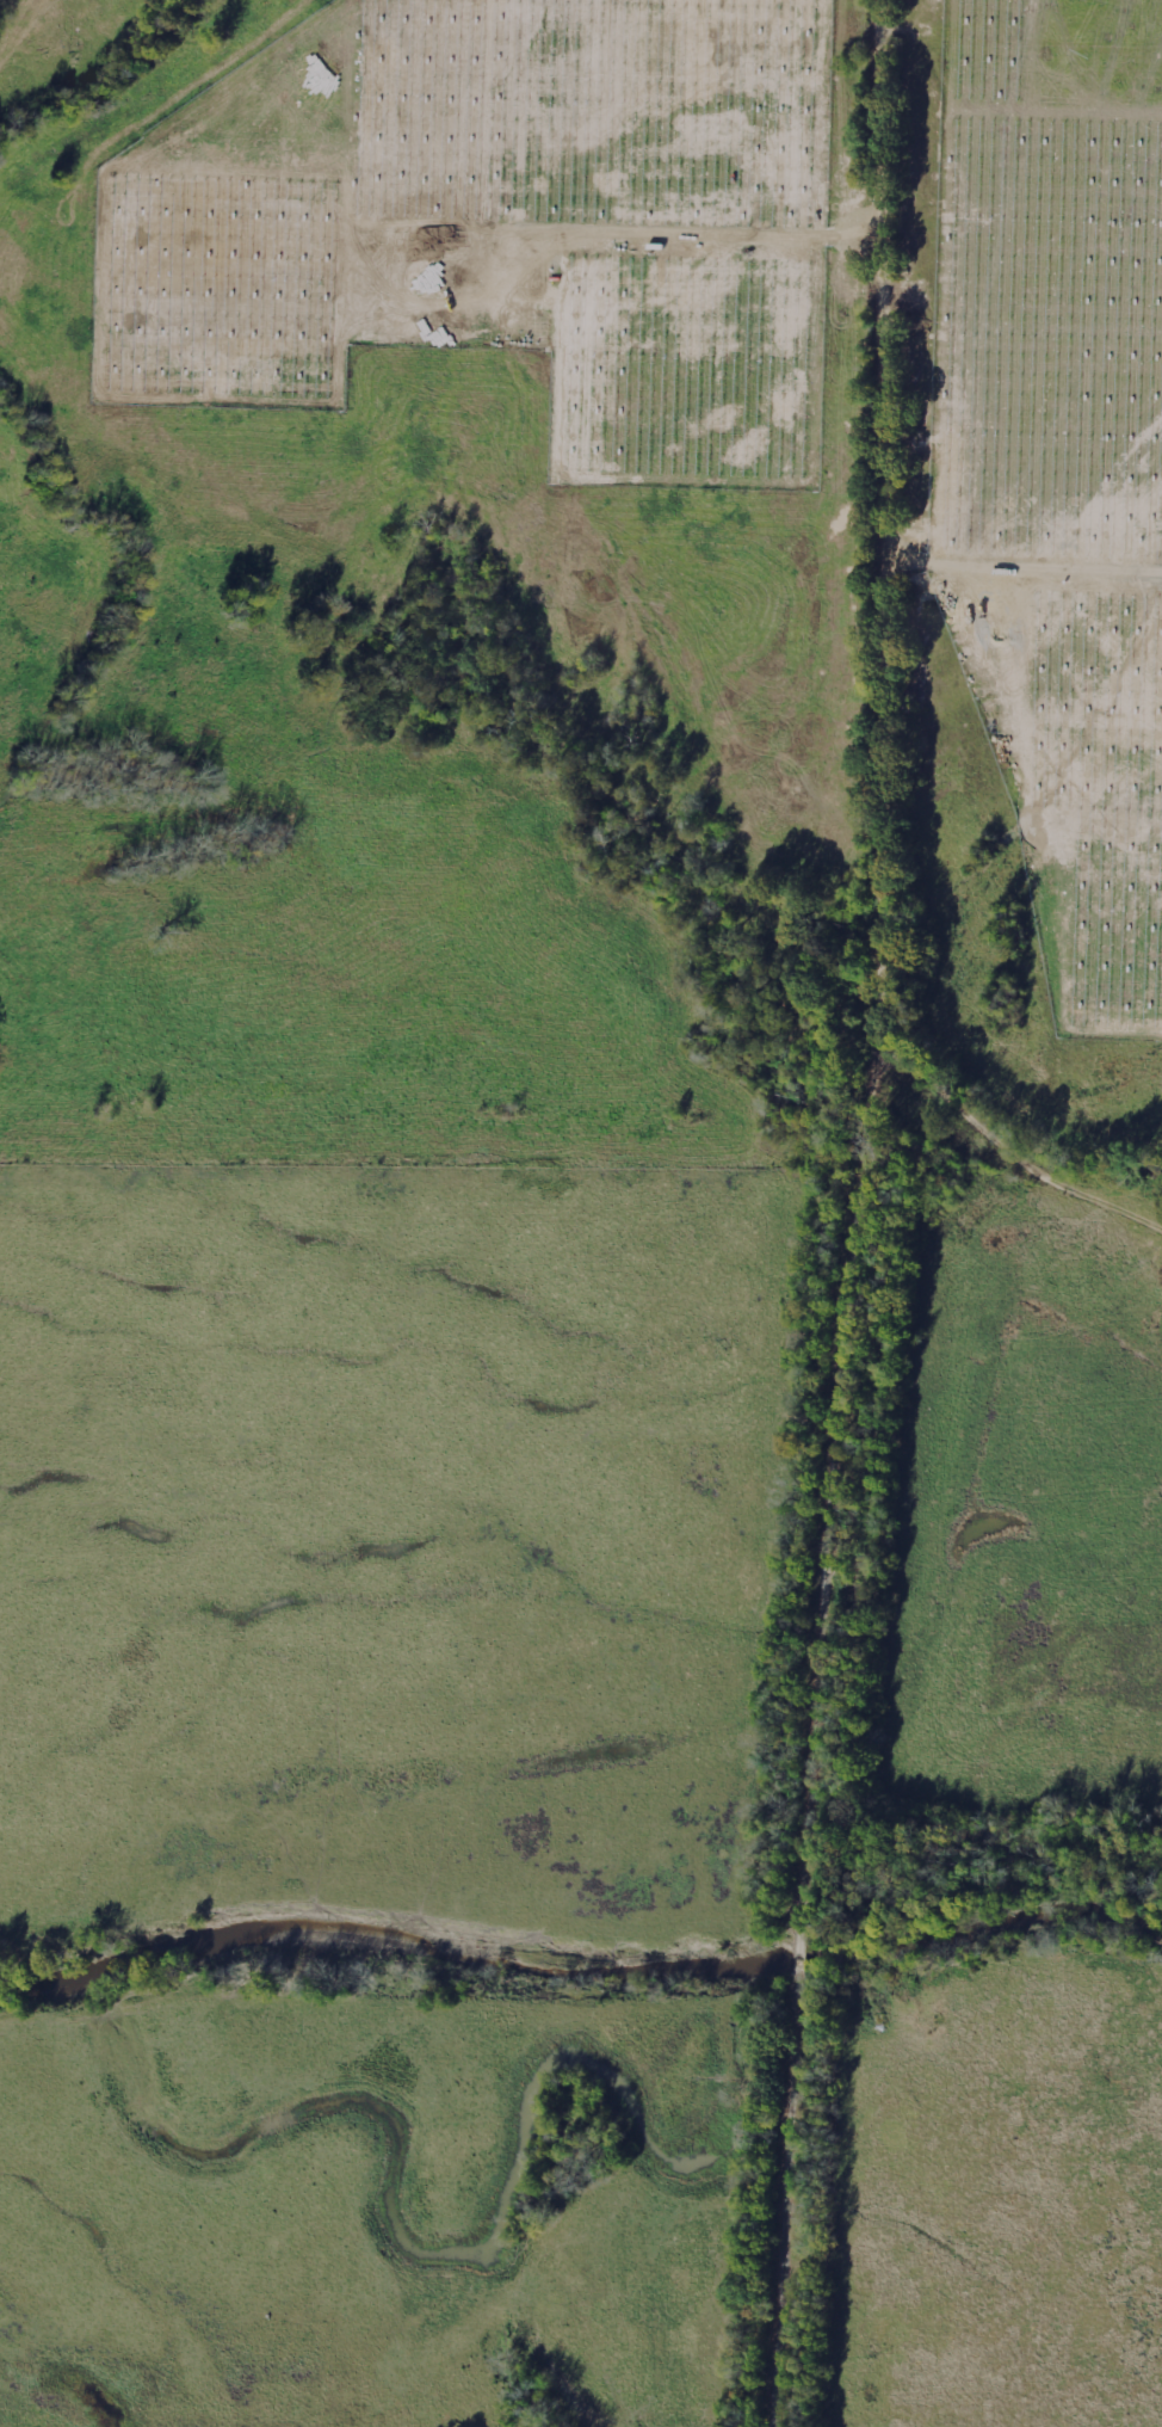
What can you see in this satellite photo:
solar farm: (499, 223)
solar farm: (1058, 466)
road: (873, 1214)

